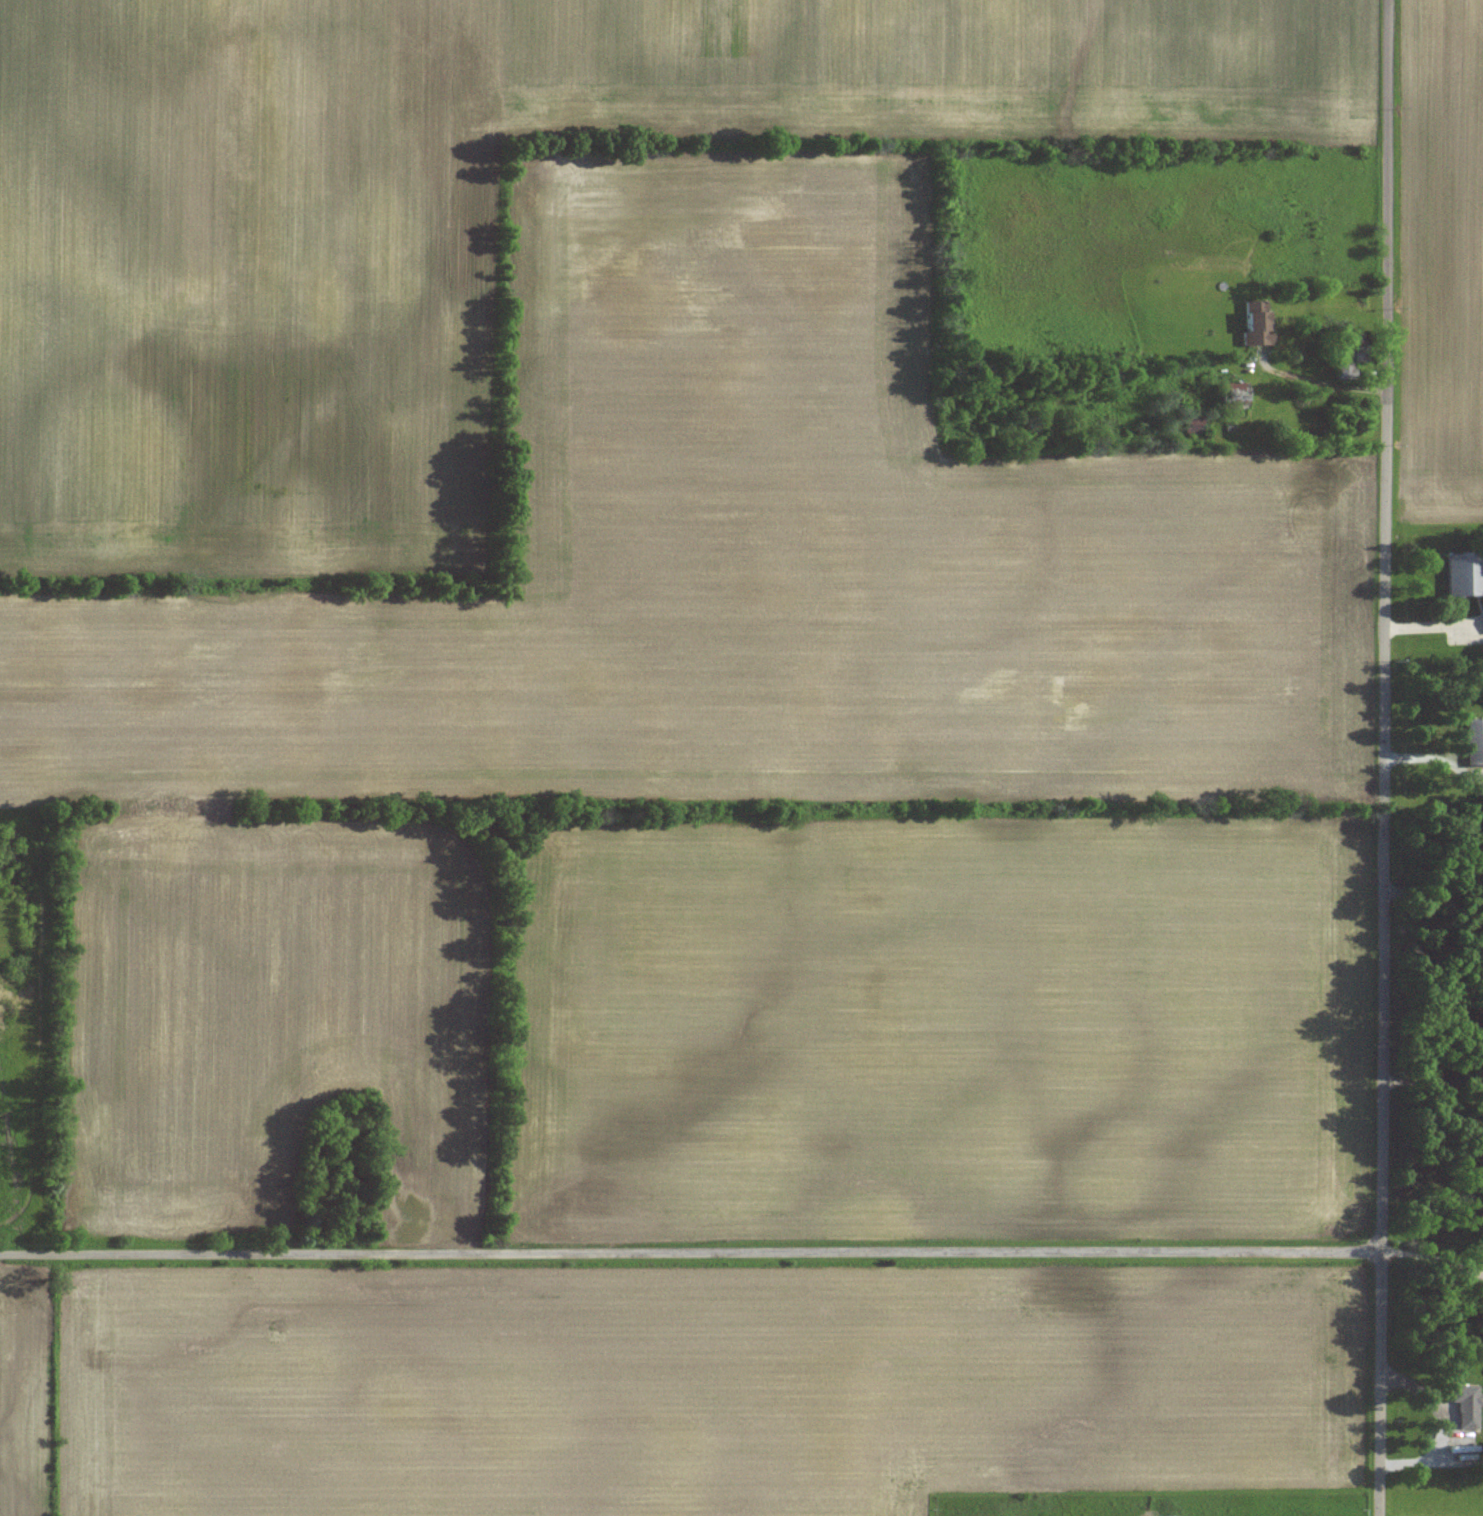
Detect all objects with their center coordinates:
building: (1255, 323)
building: (1230, 393)
building: (1463, 573)
building: (1474, 741)
road: (1434, 757)
road: (1385, 758)
road: (1433, 899)
road: (1434, 1082)
road: (690, 1251)
road: (1433, 1261)
building: (1466, 1399)

